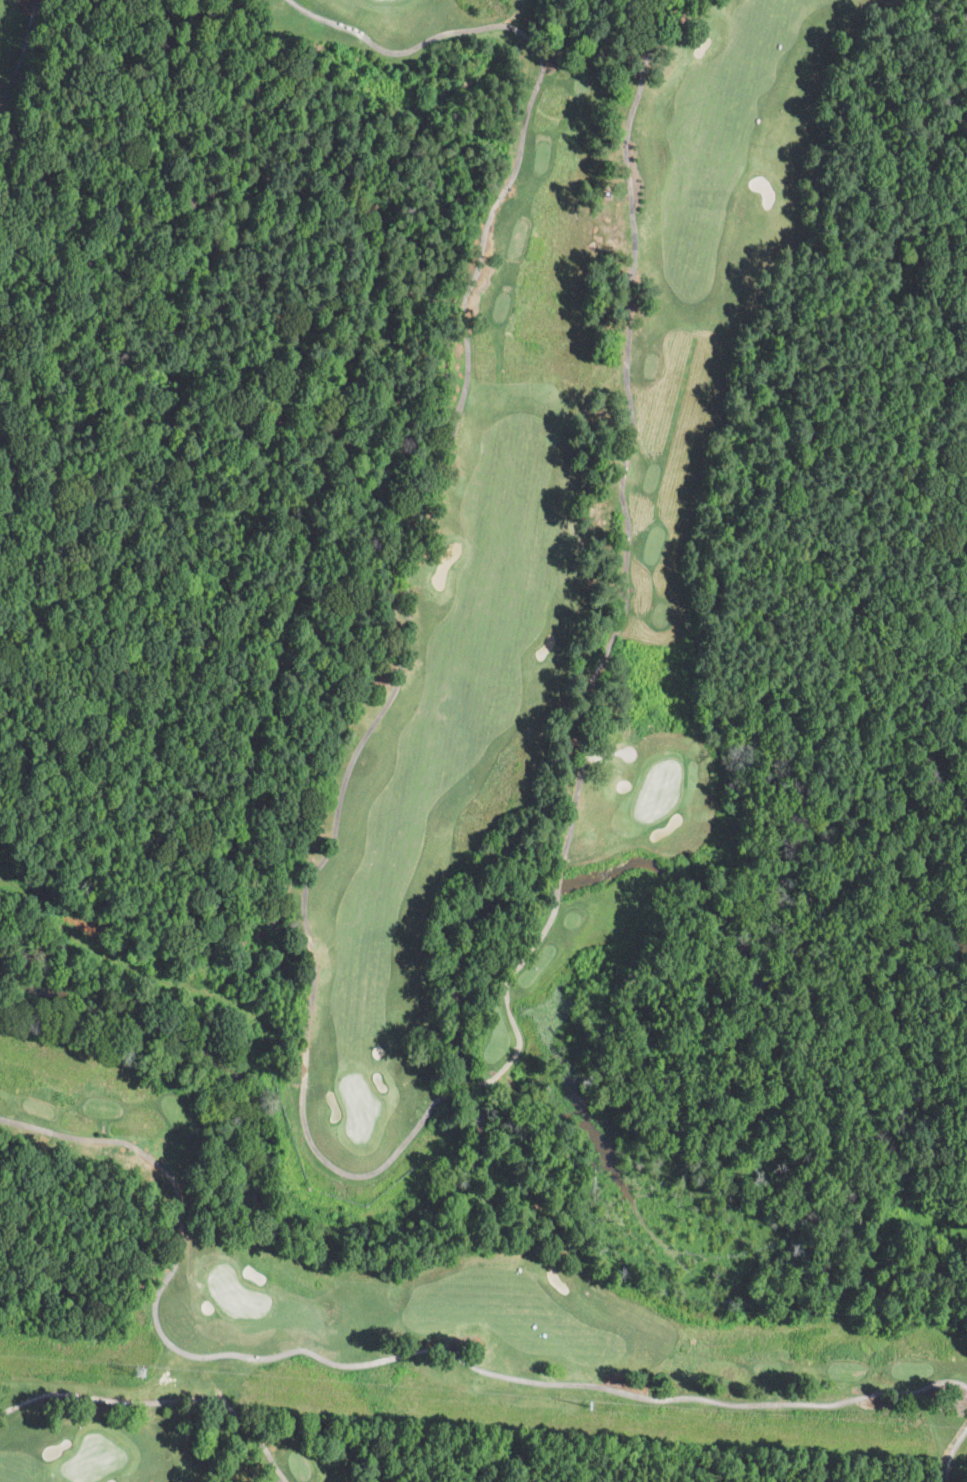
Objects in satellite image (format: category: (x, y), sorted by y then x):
park: (16, 40)
park: (516, 797)
power tower: (140, 1374)
power tower: (622, 1411)
park: (157, 1439)

